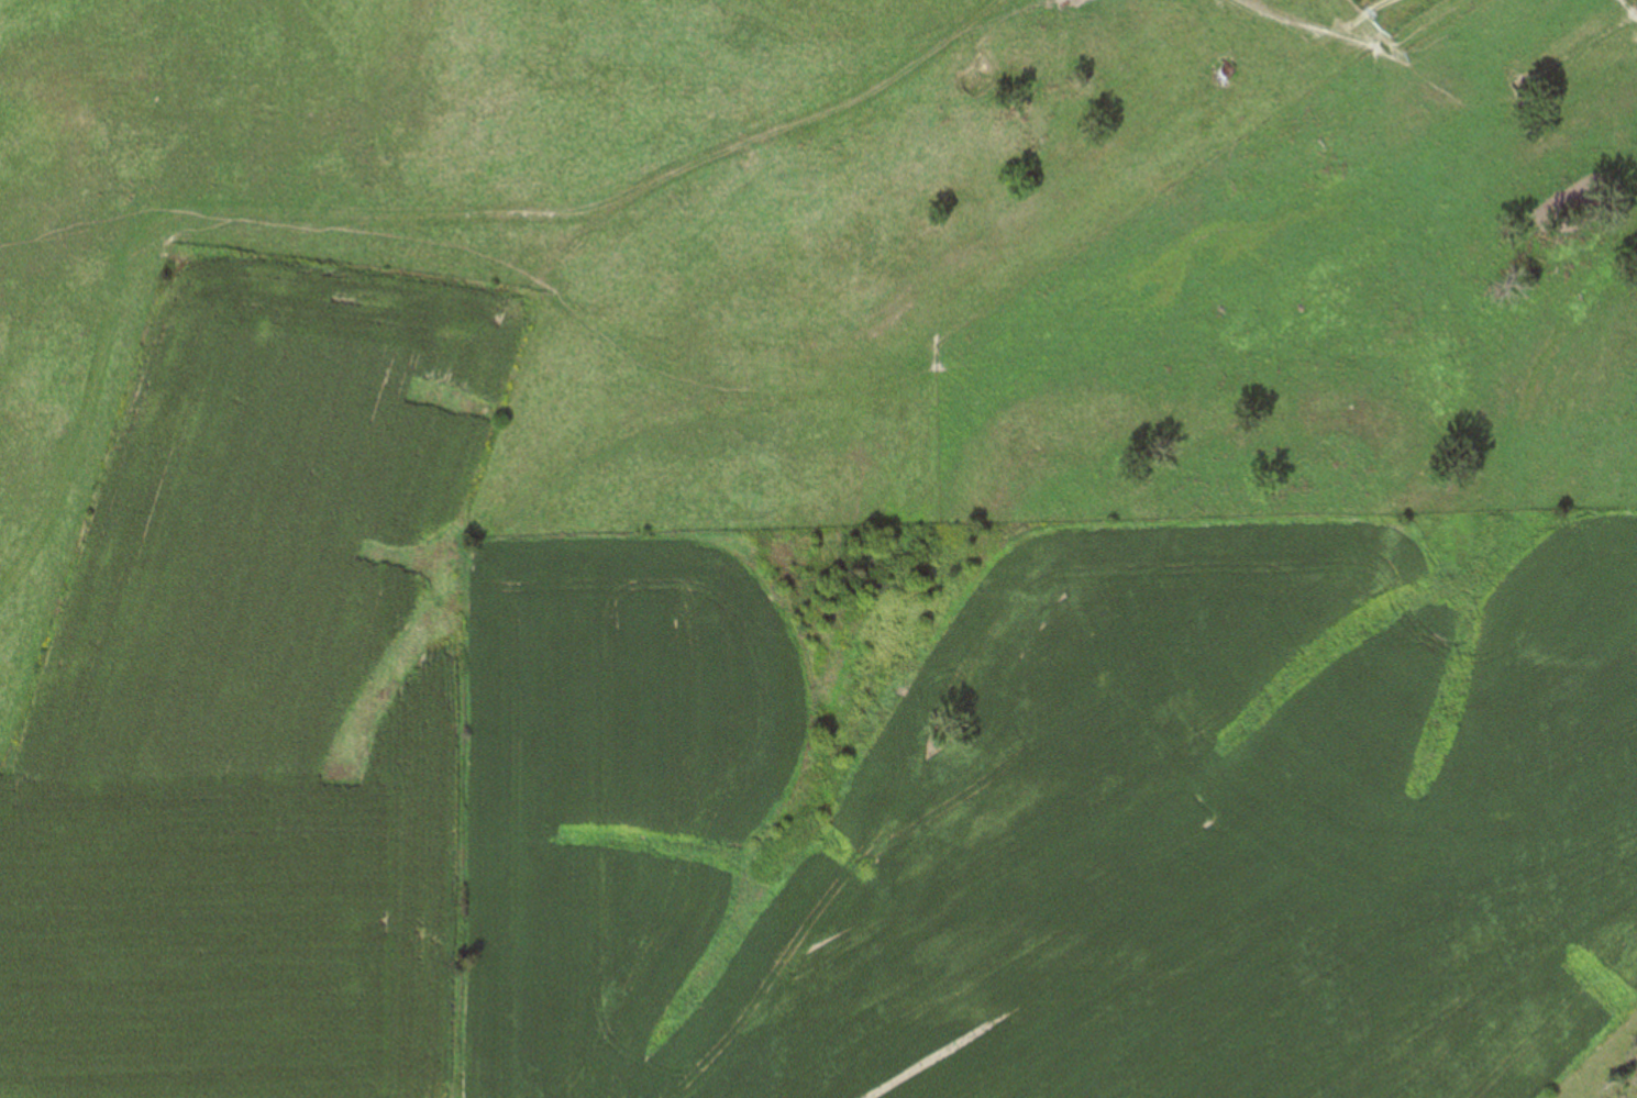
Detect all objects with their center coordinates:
road: (1325, 29)

